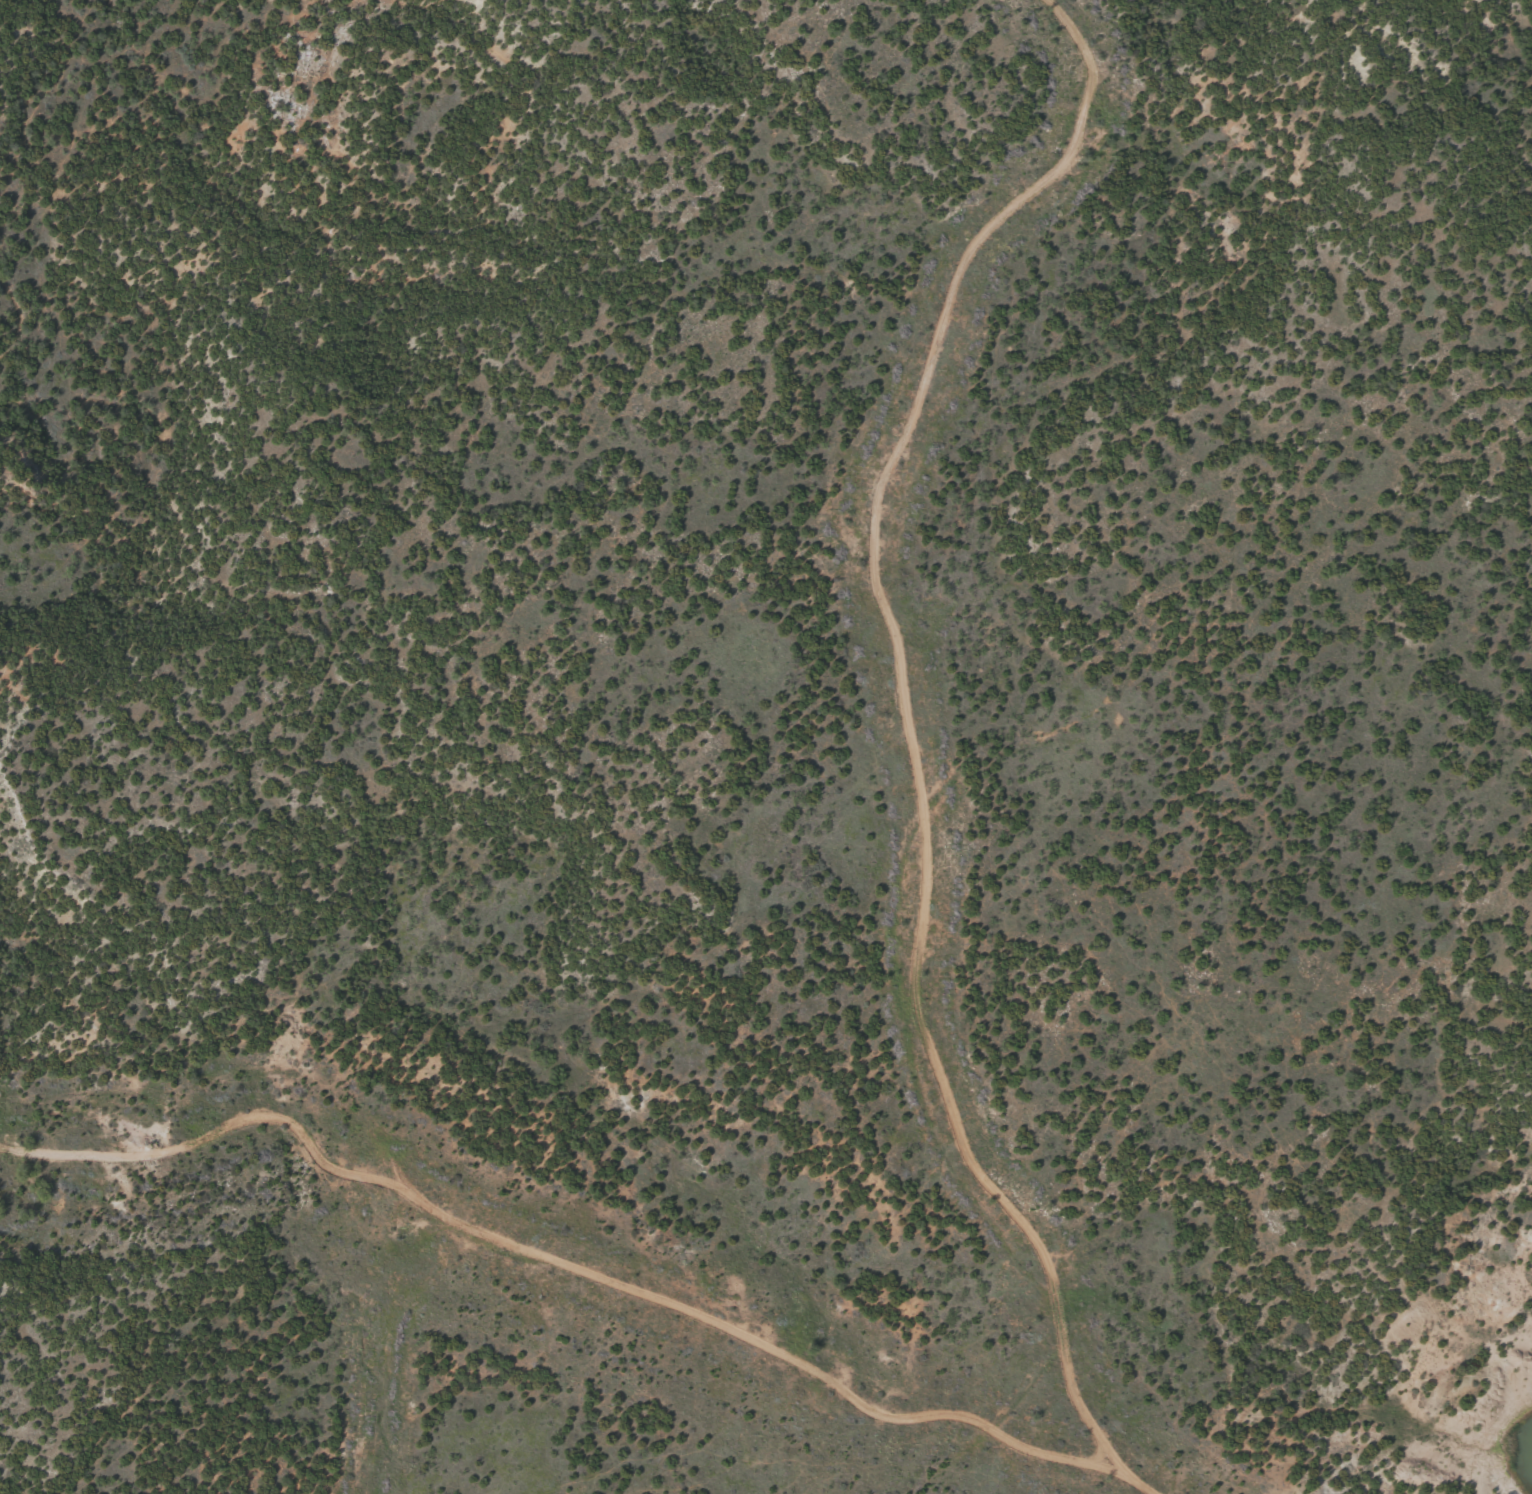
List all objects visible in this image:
road: (934, 741)
road: (564, 1241)

